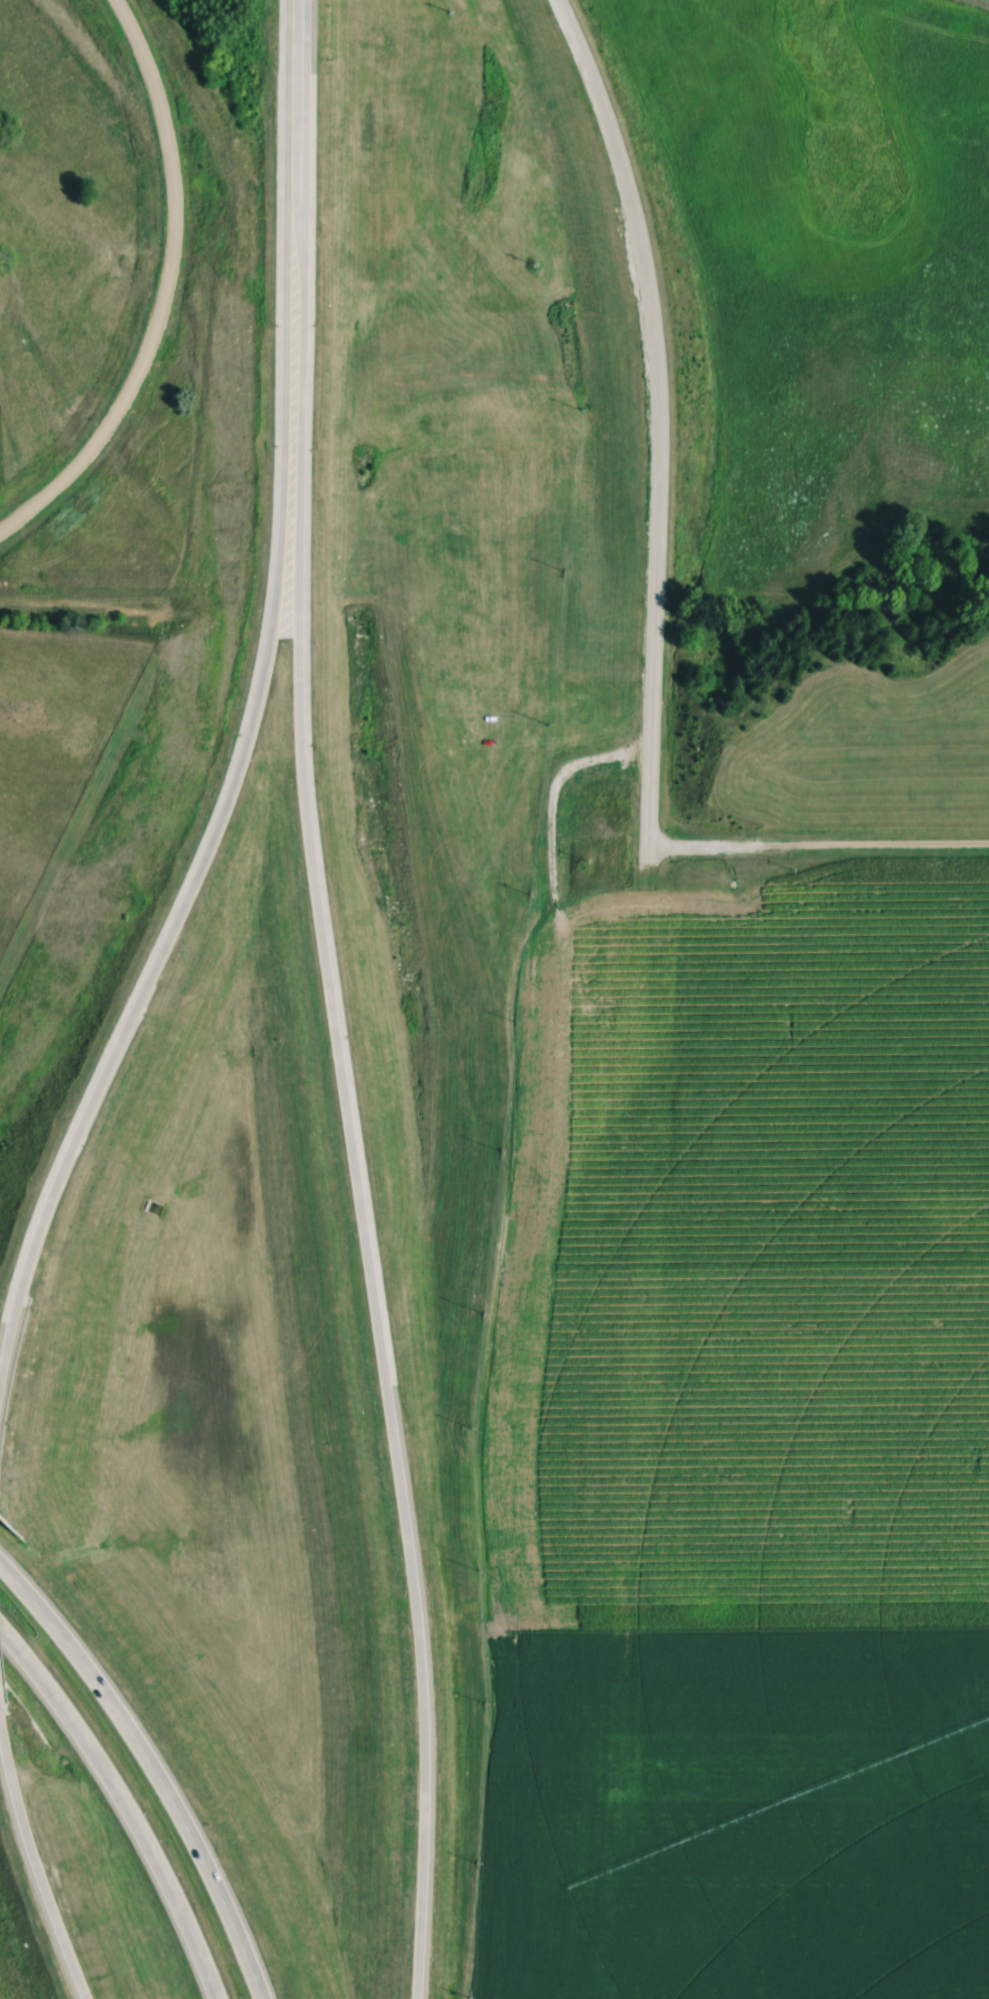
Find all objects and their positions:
road: (292, 243)
road: (167, 291)
road: (662, 429)
road: (820, 847)
road: (166, 931)
road: (365, 1242)
road: (152, 1768)
road: (124, 1804)
road: (36, 1871)

